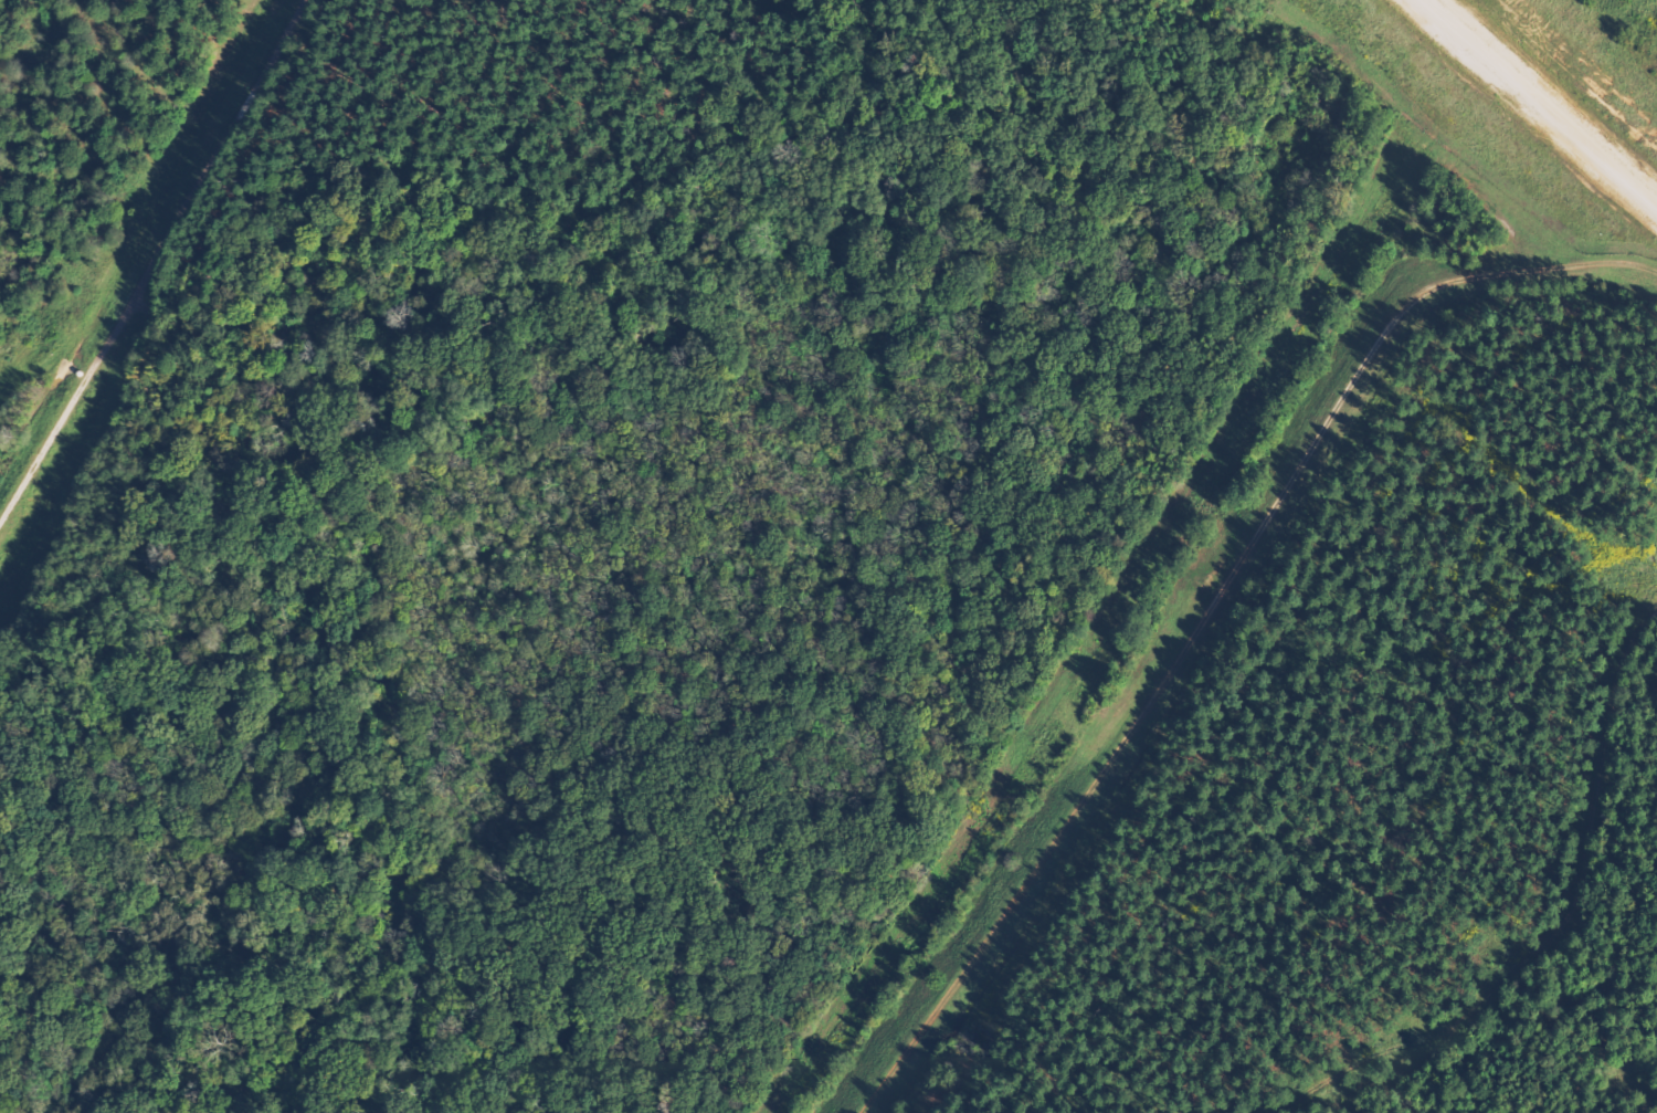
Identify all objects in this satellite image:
road: (1543, 101)

